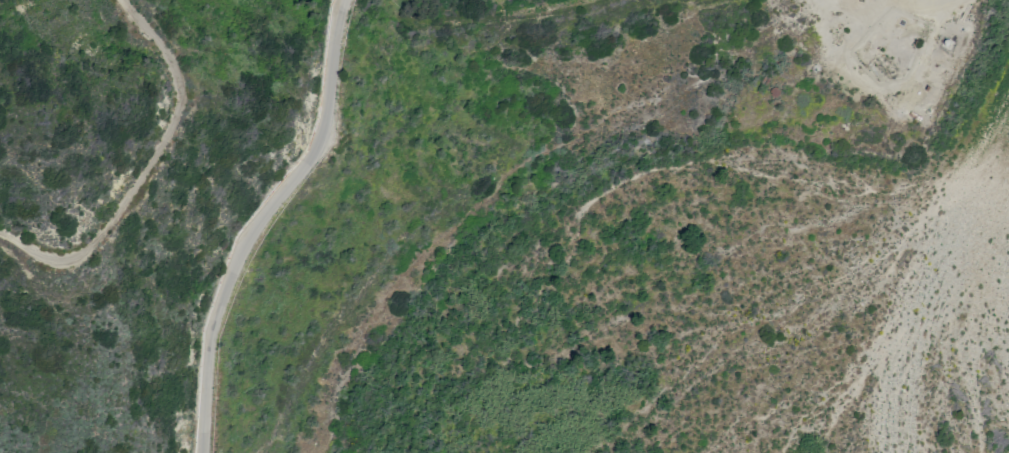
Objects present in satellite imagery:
road: (272, 224)

